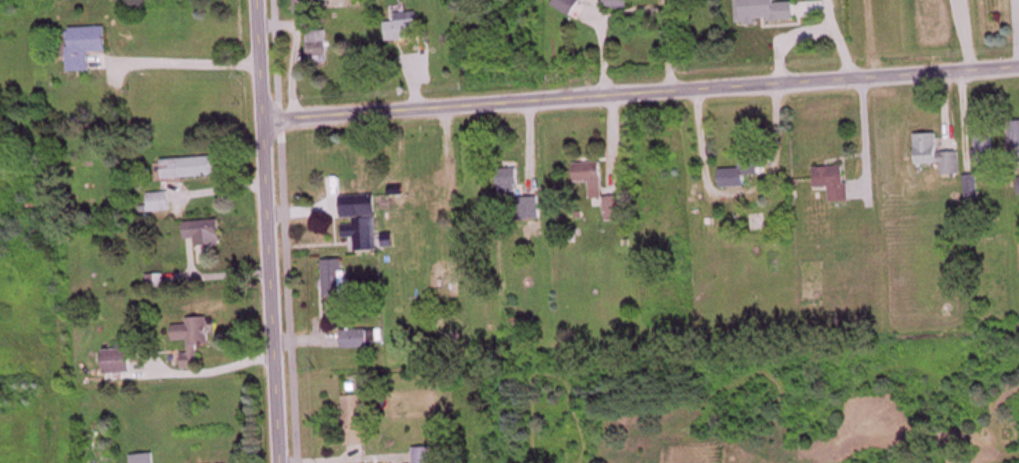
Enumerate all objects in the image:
building: (618, 4)
building: (568, 6)
building: (760, 19)
building: (404, 28)
building: (87, 47)
building: (319, 47)
road: (639, 92)
building: (1015, 140)
building: (986, 147)
building: (938, 155)
building: (191, 168)
building: (743, 171)
building: (591, 174)
building: (510, 180)
building: (835, 182)
building: (973, 187)
building: (427, 189)
building: (161, 202)
building: (614, 209)
building: (362, 226)
road: (264, 231)
building: (206, 233)
building: (338, 279)
building: (194, 339)
building: (367, 339)
building: (120, 359)
building: (356, 421)
building: (424, 455)
building: (145, 459)

